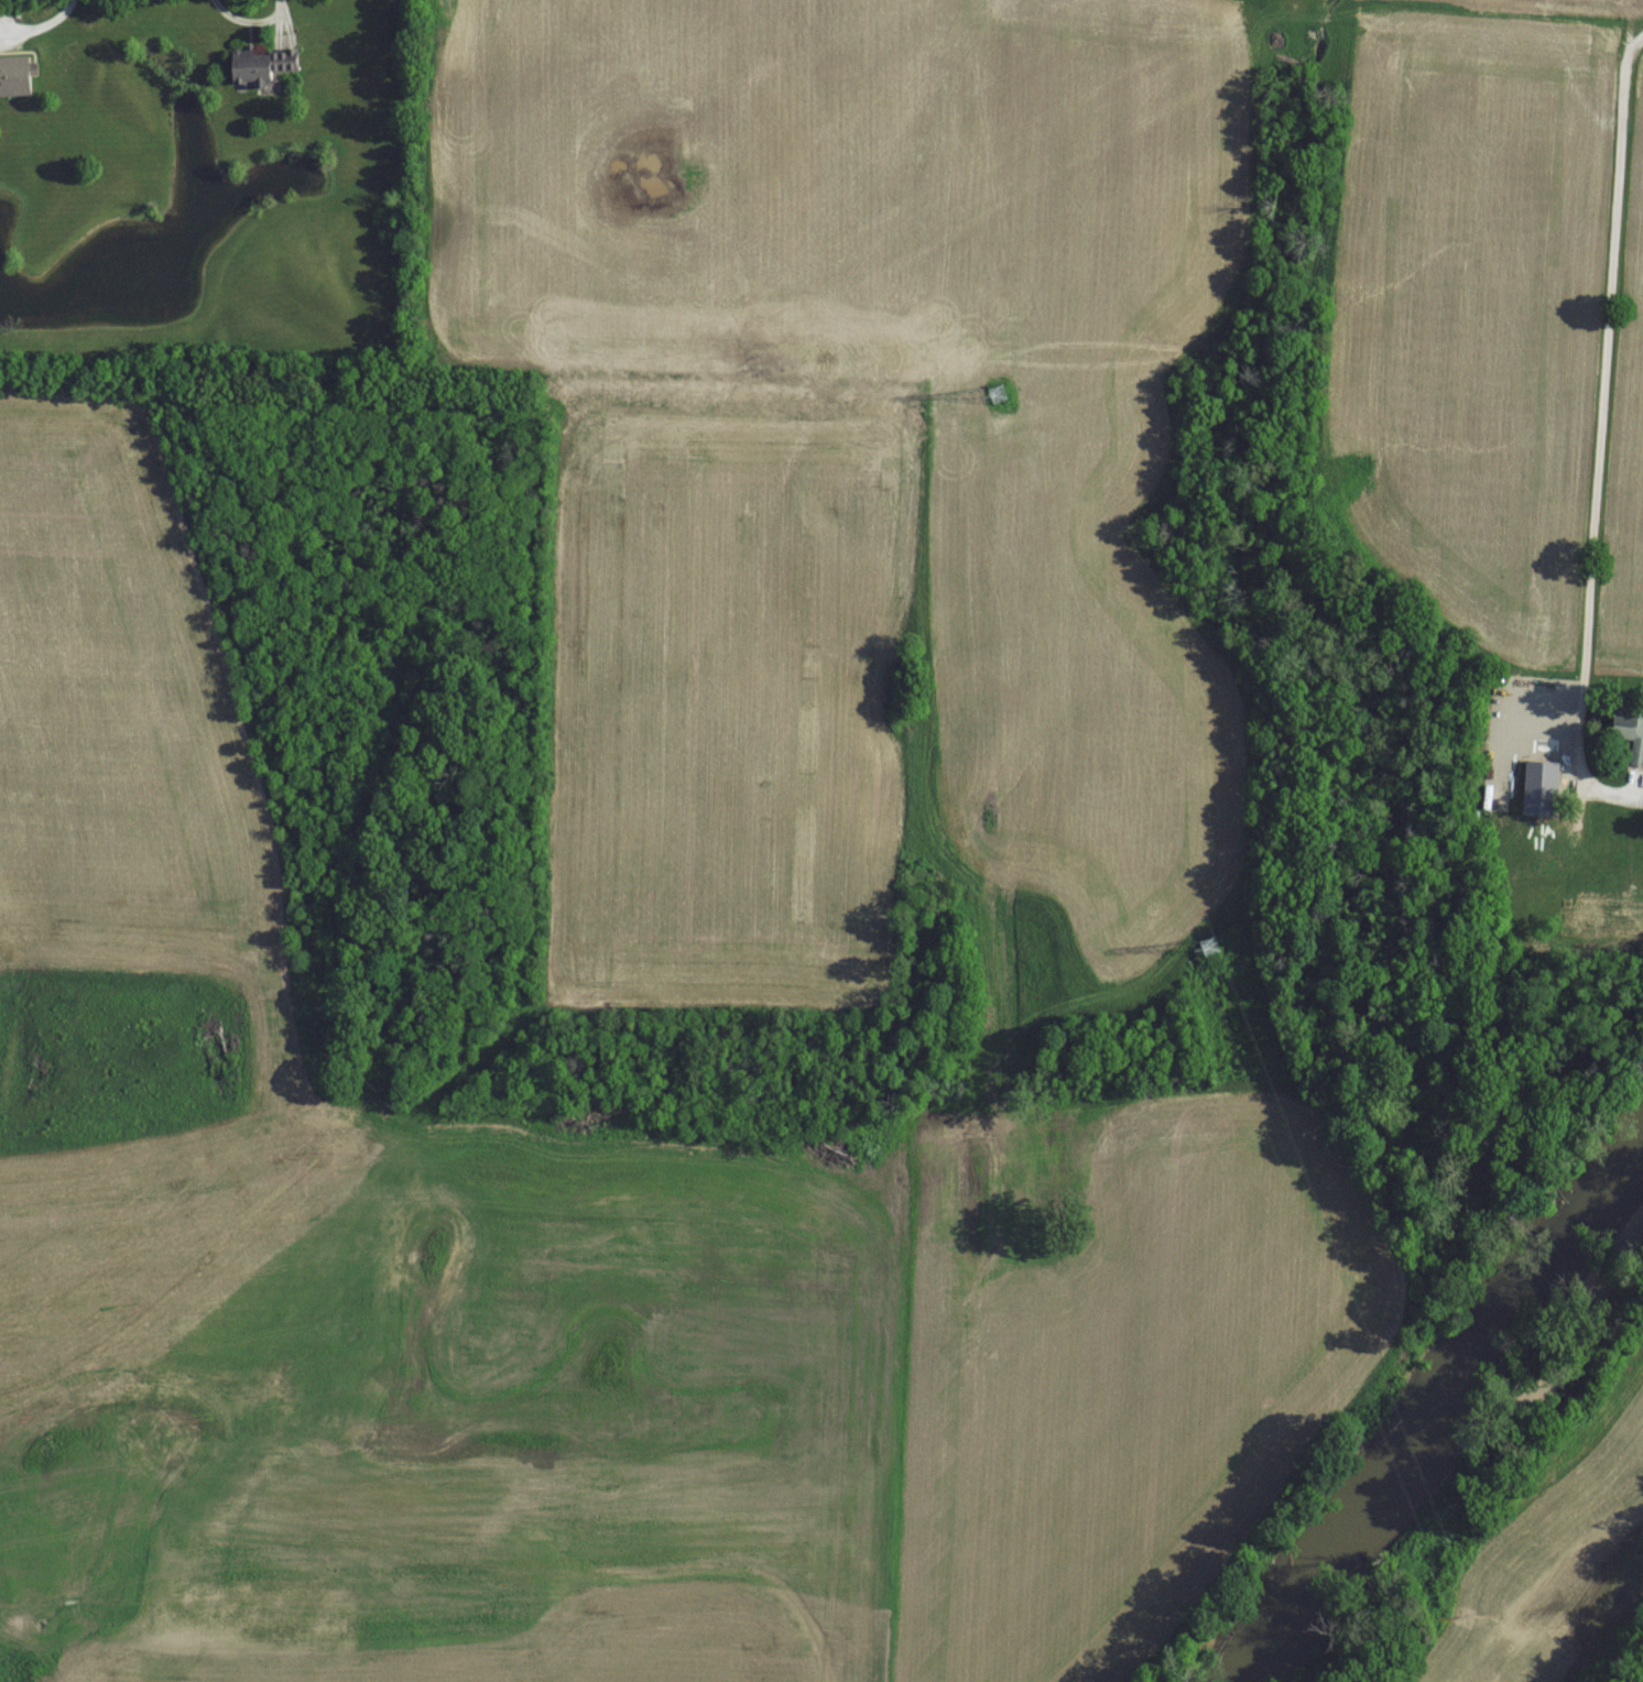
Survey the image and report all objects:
road: (42, 23)
building: (243, 67)
building: (10, 75)
road: (1602, 396)
building: (1536, 787)
river: (1471, 1453)

